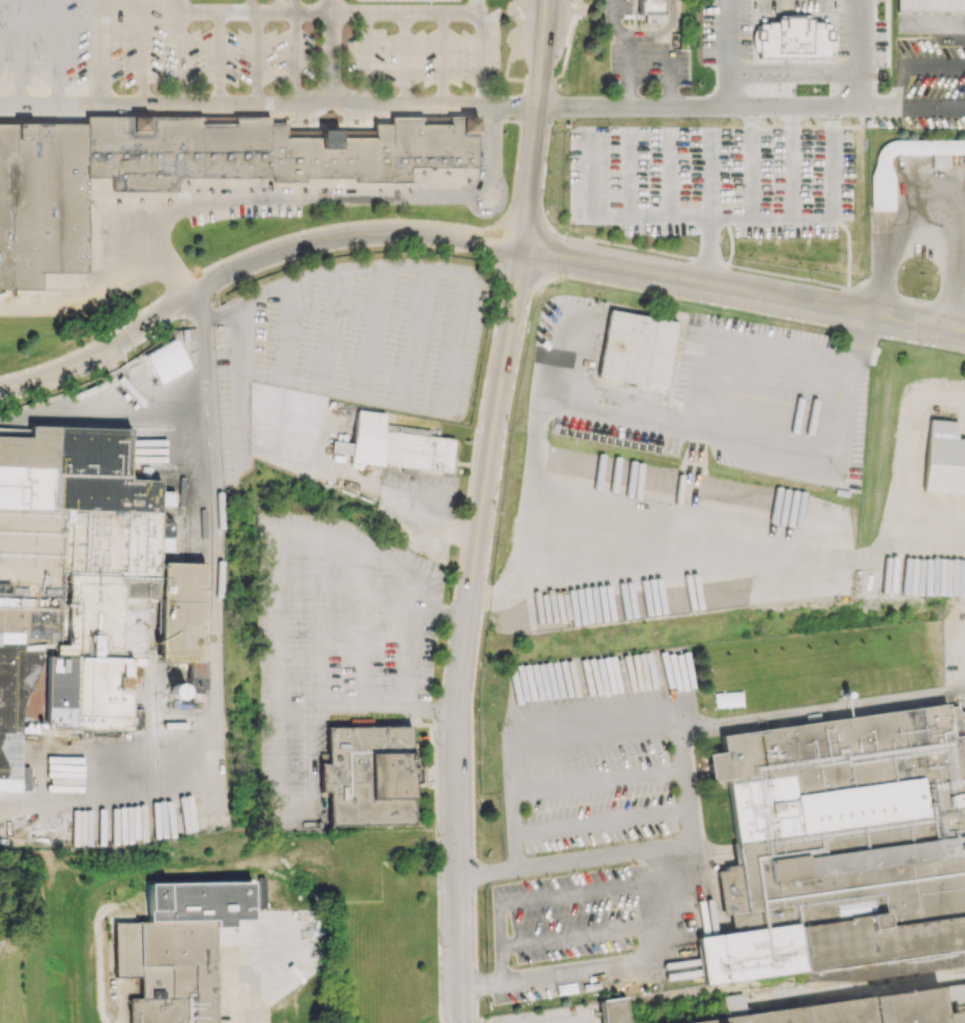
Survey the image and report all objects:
road: (469, 5)
building: (931, 5)
road: (309, 9)
road: (239, 10)
building: (652, 10)
road: (449, 11)
building: (792, 37)
road: (99, 51)
road: (669, 51)
road: (180, 52)
road: (330, 52)
road: (622, 53)
road: (295, 56)
road: (217, 57)
road: (255, 57)
road: (403, 58)
road: (442, 58)
road: (831, 102)
road: (440, 105)
road: (911, 107)
road: (536, 123)
building: (184, 168)
building: (881, 188)
road: (265, 196)
road: (928, 247)
road: (248, 263)
road: (613, 265)
road: (170, 266)
road: (834, 308)
building: (637, 349)
building: (267, 401)
road: (723, 432)
building: (397, 444)
building: (340, 447)
building: (944, 459)
road: (403, 506)
road: (689, 543)
building: (89, 585)
road: (209, 627)
road: (467, 633)
road: (408, 655)
building: (177, 690)
road: (821, 704)
road: (682, 765)
building: (368, 774)
road: (597, 778)
road: (600, 820)
building: (842, 848)
road: (598, 857)
road: (586, 889)
road: (579, 934)
road: (501, 944)
building: (178, 949)
road: (247, 989)
building: (853, 1009)
building: (614, 1010)

